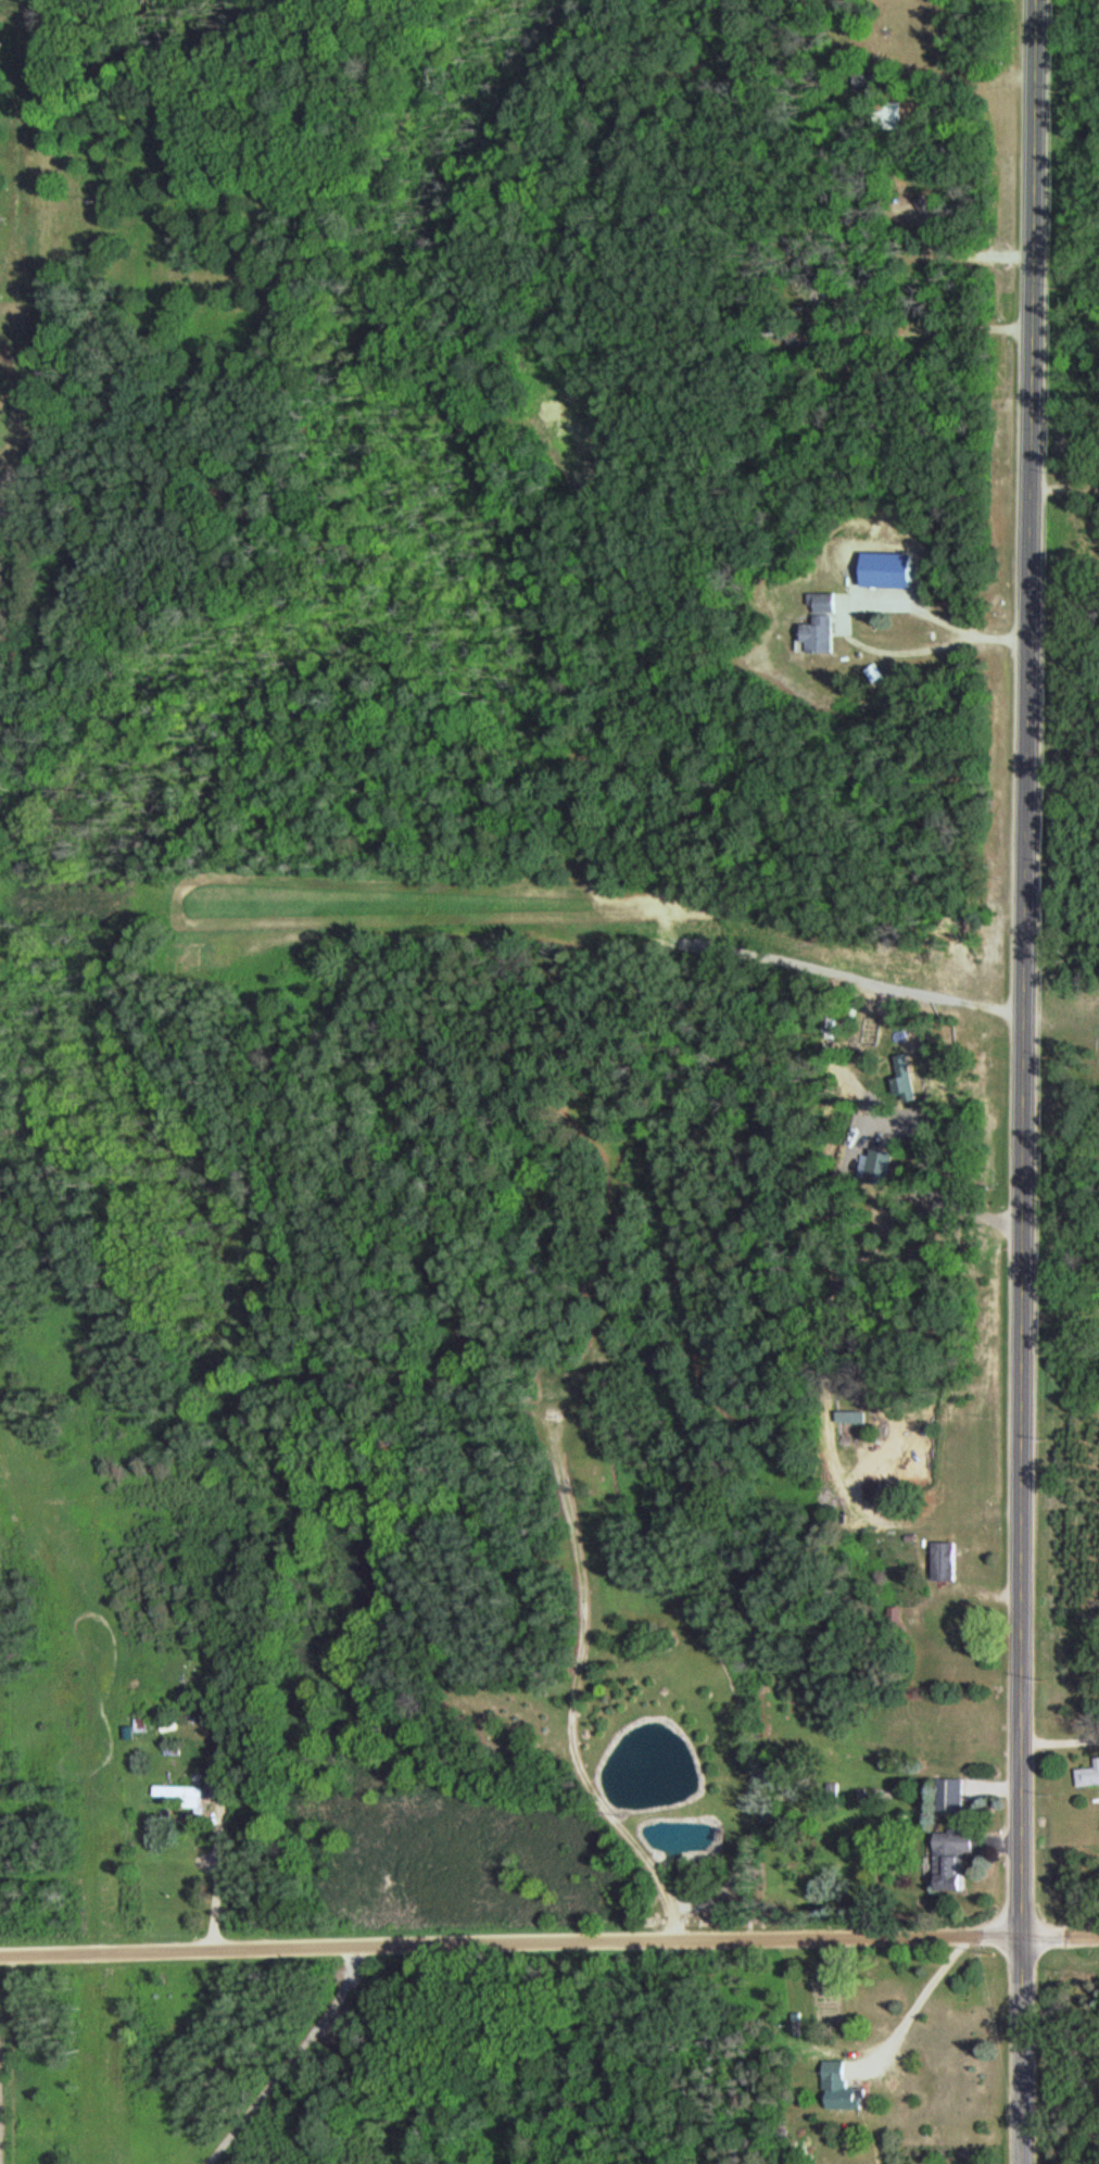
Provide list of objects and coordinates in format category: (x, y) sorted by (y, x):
building: (886, 114)
building: (804, 340)
building: (825, 621)
road: (1023, 969)
building: (939, 1562)
building: (889, 1615)
building: (1085, 1776)
building: (185, 1791)
building: (952, 1792)
building: (956, 1855)
road: (549, 1945)
road: (1025, 2051)
building: (844, 2087)

